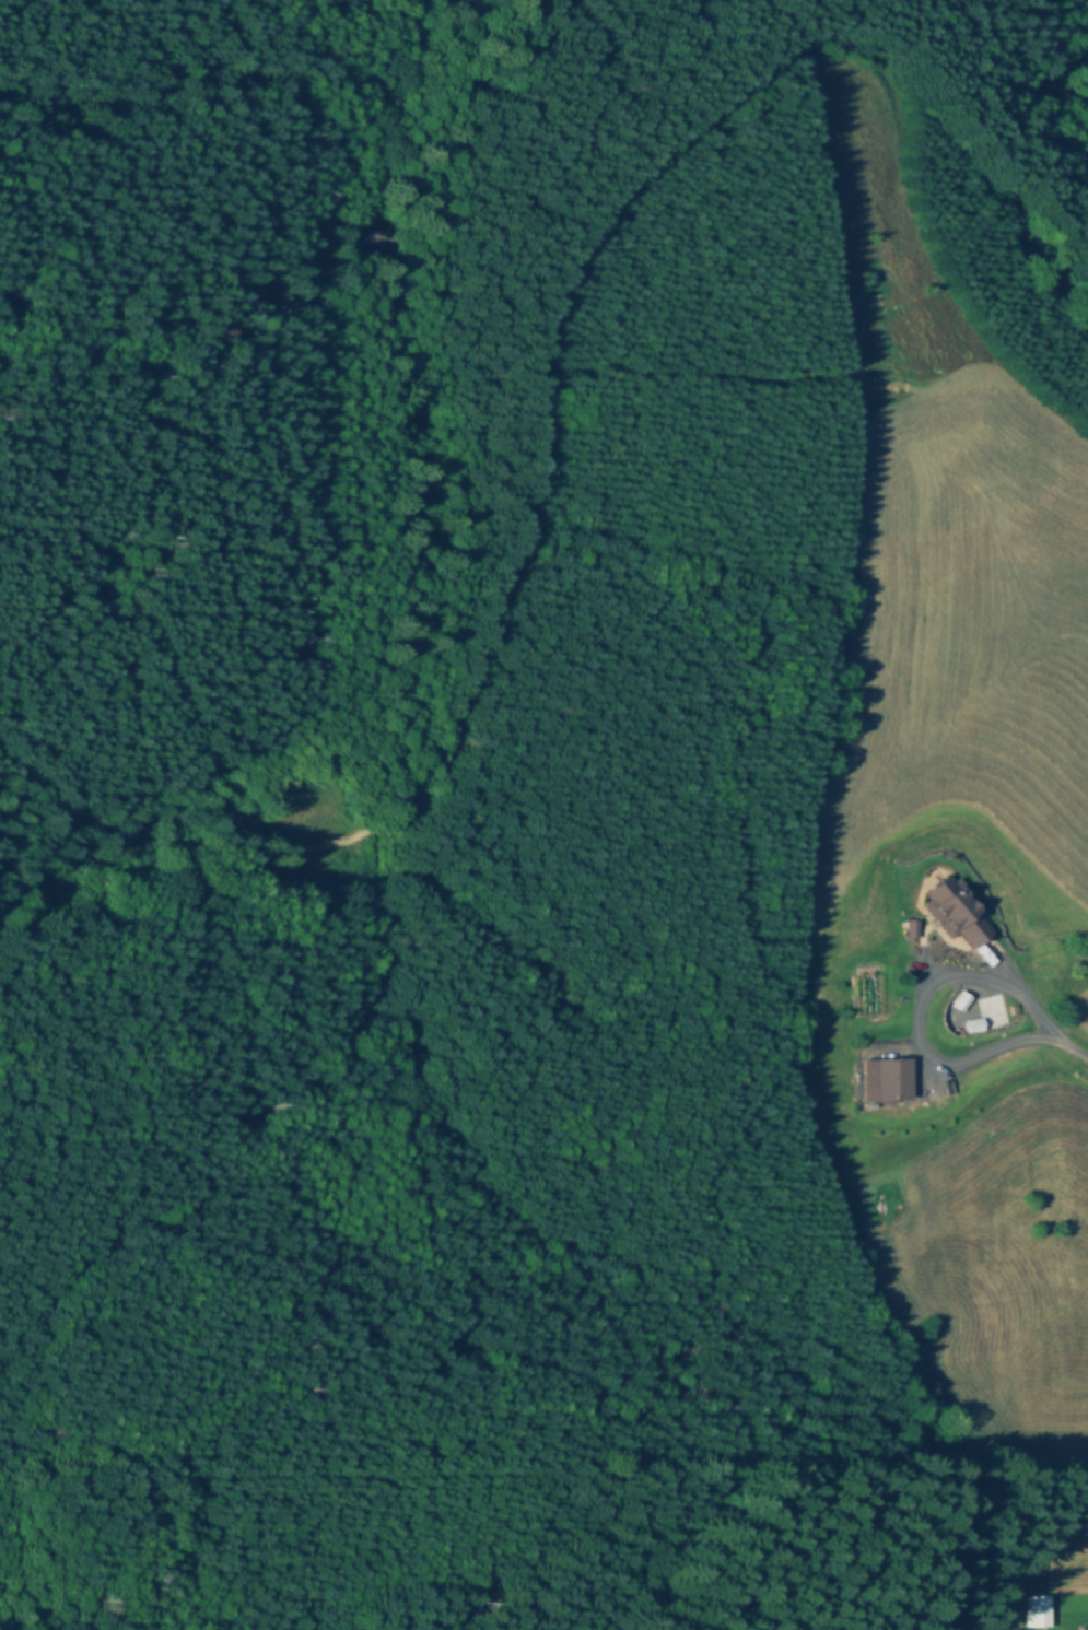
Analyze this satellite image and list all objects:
building: (925, 920)
road: (902, 1001)
building: (943, 1011)
building: (993, 1012)
road: (1065, 1045)
building: (886, 1080)
building: (1034, 1611)

